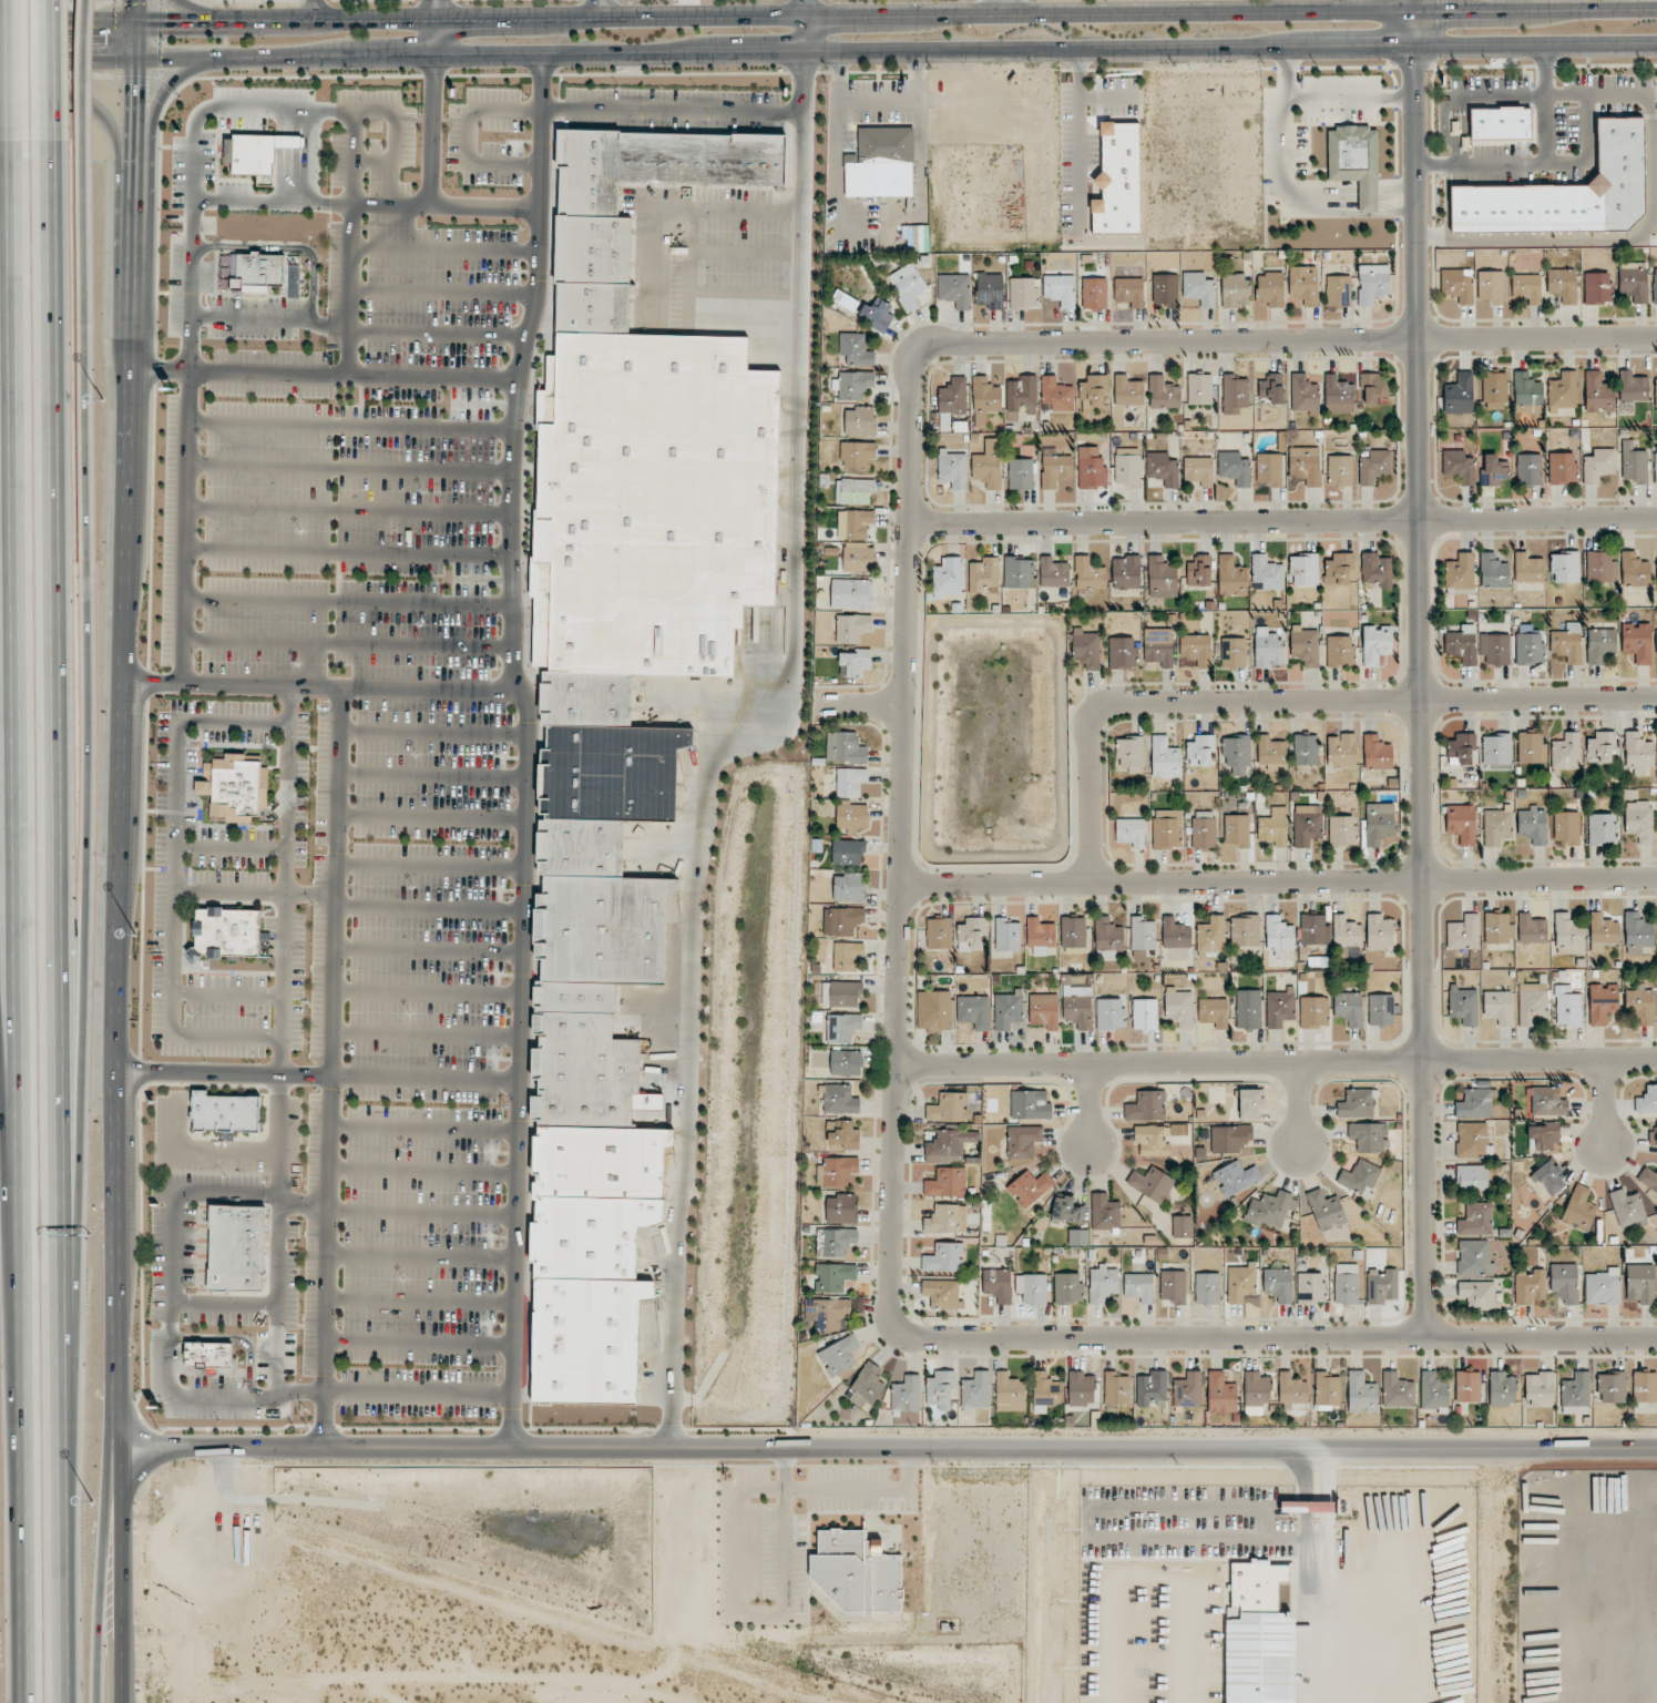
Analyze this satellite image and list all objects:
road: (1412, 4)
road: (1415, 4)
road: (802, 7)
road: (1005, 7)
road: (433, 8)
road: (599, 9)
road: (205, 10)
road: (310, 10)
road: (434, 13)
road: (896, 13)
traffic signals: (166, 22)
road: (68, 23)
road: (136, 31)
road: (802, 33)
road: (434, 37)
road: (896, 52)
road: (68, 63)
traffic signals: (101, 63)
road: (7, 73)
road: (53, 73)
traffic signals: (136, 85)
road: (82, 98)
road: (163, 98)
road: (297, 110)
road: (671, 113)
building: (1501, 122)
road: (432, 132)
road: (1078, 139)
road: (467, 140)
building: (257, 151)
building: (704, 157)
road: (349, 159)
building: (1357, 160)
building: (881, 162)
building: (589, 171)
building: (1118, 179)
road: (386, 185)
building: (1565, 193)
road: (366, 206)
road: (727, 210)
road: (393, 228)
building: (916, 237)
road: (280, 248)
building: (594, 248)
road: (652, 249)
road: (726, 249)
road: (442, 252)
building: (256, 271)
building: (1634, 281)
building: (1373, 283)
building: (1563, 284)
building: (1457, 285)
road: (190, 286)
building: (908, 286)
building: (1303, 286)
building: (1491, 286)
building: (1655, 286)
building: (1527, 287)
building: (1597, 287)
building: (1199, 288)
building: (955, 289)
building: (990, 289)
building: (1060, 289)
building: (1236, 289)
building: (1270, 289)
road: (347, 290)
building: (1165, 290)
building: (1338, 290)
road: (440, 292)
building: (1022, 292)
building: (1129, 292)
road: (725, 294)
building: (1094, 294)
building: (595, 308)
building: (878, 315)
road: (269, 316)
road: (436, 333)
road: (1288, 341)
building: (855, 349)
road: (326, 375)
building: (853, 385)
building: (1634, 387)
building: (1271, 388)
building: (1372, 388)
building: (1199, 389)
building: (1128, 390)
building: (1494, 390)
building: (1564, 390)
building: (1094, 391)
building: (1163, 392)
building: (1235, 392)
building: (1305, 392)
building: (1527, 392)
building: (1598, 392)
building: (1656, 392)
building: (1022, 394)
building: (1057, 394)
building: (1460, 394)
building: (1338, 395)
building: (985, 400)
building: (952, 401)
building: (860, 421)
road: (351, 427)
building: (857, 455)
building: (1634, 462)
building: (989, 465)
building: (1306, 465)
building: (1599, 465)
building: (1655, 465)
building: (1374, 466)
building: (1459, 466)
building: (1127, 467)
building: (1163, 468)
building: (1235, 468)
building: (953, 469)
building: (1056, 469)
building: (1092, 469)
building: (1269, 469)
building: (1528, 469)
building: (1563, 469)
road: (349, 470)
building: (1199, 470)
building: (1340, 471)
building: (1493, 471)
building: (1021, 473)
building: (857, 490)
building: (646, 504)
road: (348, 511)
road: (1283, 521)
building: (853, 523)
road: (184, 528)
road: (348, 552)
building: (858, 559)
building: (1565, 567)
building: (1602, 567)
building: (1528, 568)
building: (1305, 569)
building: (1338, 570)
building: (1634, 570)
building: (1199, 571)
building: (1375, 571)
building: (1460, 571)
building: (1493, 571)
building: (1019, 572)
building: (1054, 572)
building: (1127, 572)
building: (1090, 574)
building: (984, 575)
building: (948, 577)
building: (1231, 577)
building: (1162, 578)
building: (1656, 582)
building: (850, 593)
road: (347, 603)
building: (852, 628)
building: (1637, 641)
building: (1375, 643)
building: (1567, 643)
building: (1656, 643)
road: (347, 644)
building: (1462, 644)
building: (1600, 644)
building: (1305, 645)
building: (1159, 646)
building: (1268, 647)
building: (1495, 647)
building: (1086, 649)
building: (1530, 649)
building: (1195, 650)
building: (1340, 651)
building: (1123, 652)
building: (1234, 652)
building: (856, 662)
road: (1422, 673)
road: (321, 686)
building: (589, 700)
road: (1290, 702)
road: (858, 705)
road: (88, 710)
road: (433, 736)
road: (726, 742)
building: (845, 747)
building: (1461, 747)
building: (1532, 747)
building: (1600, 747)
road: (525, 749)
building: (1200, 749)
building: (1306, 749)
building: (1341, 751)
building: (1496, 751)
building: (1566, 751)
building: (1132, 752)
road: (123, 753)
building: (1271, 753)
building: (1377, 753)
building: (1638, 753)
building: (1237, 754)
building: (1165, 758)
building: (612, 771)
road: (432, 778)
building: (850, 782)
building: (236, 786)
building: (851, 817)
road: (431, 818)
building: (1639, 820)
building: (1379, 823)
building: (1462, 823)
building: (1307, 825)
building: (1497, 825)
building: (1533, 825)
building: (1274, 827)
building: (1167, 828)
building: (1566, 828)
building: (1204, 829)
building: (1603, 829)
building: (1237, 830)
building: (1131, 832)
building: (1341, 832)
road: (902, 837)
building: (582, 846)
building: (848, 851)
road: (430, 867)
road: (285, 881)
road: (1279, 881)
building: (849, 887)
road: (429, 907)
building: (842, 920)
road: (60, 924)
road: (11, 925)
building: (601, 927)
building: (1497, 928)
building: (1312, 929)
building: (1532, 929)
building: (1245, 930)
building: (1073, 931)
building: (1379, 931)
building: (1603, 931)
building: (227, 932)
building: (939, 932)
building: (1143, 932)
building: (1347, 932)
building: (1464, 932)
building: (1637, 932)
building: (971, 934)
building: (1175, 934)
building: (1567, 934)
building: (1008, 935)
building: (1211, 935)
building: (1279, 935)
building: (1041, 936)
building: (1108, 936)
road: (428, 951)
building: (847, 956)
building: (846, 993)
road: (427, 995)
building: (575, 996)
building: (1603, 1002)
building: (1532, 1003)
building: (1463, 1005)
building: (1640, 1006)
building: (1280, 1007)
building: (1499, 1007)
building: (1567, 1007)
building: (1178, 1008)
building: (1349, 1008)
building: (1248, 1009)
building: (1381, 1009)
building: (1008, 1010)
building: (1044, 1010)
building: (973, 1011)
building: (1214, 1012)
building: (1313, 1012)
building: (1111, 1013)
building: (1145, 1013)
building: (842, 1027)
road: (426, 1037)
building: (846, 1062)
road: (1277, 1062)
road: (331, 1065)
building: (662, 1065)
building: (584, 1071)
road: (224, 1075)
road: (425, 1080)
building: (839, 1100)
building: (1647, 1100)
building: (1547, 1101)
building: (1249, 1103)
road: (1300, 1103)
building: (1357, 1103)
building: (1475, 1103)
road: (1606, 1103)
building: (1030, 1104)
road: (1091, 1105)
building: (1147, 1105)
building: (949, 1108)
building: (226, 1112)
road: (423, 1130)
building: (1653, 1133)
building: (1369, 1136)
building: (1544, 1136)
building: (1231, 1139)
building: (1154, 1140)
building: (1472, 1140)
building: (1023, 1141)
building: (948, 1145)
road: (4, 1159)
building: (602, 1159)
road: (422, 1171)
building: (836, 1171)
building: (1360, 1175)
building: (1236, 1177)
building: (1472, 1177)
building: (1548, 1177)
building: (1648, 1179)
building: (947, 1183)
building: (1152, 1183)
building: (1030, 1187)
building: (841, 1209)
building: (1275, 1209)
building: (1579, 1209)
building: (1627, 1209)
building: (1066, 1210)
building: (1326, 1211)
building: (1105, 1213)
road: (421, 1214)
building: (947, 1220)
building: (1476, 1220)
building: (1183, 1226)
building: (591, 1234)
building: (1078, 1237)
building: (835, 1242)
building: (237, 1247)
road: (421, 1256)
building: (944, 1257)
building: (1474, 1257)
building: (833, 1276)
building: (1565, 1282)
building: (1241, 1283)
building: (1347, 1283)
building: (998, 1284)
building: (1103, 1284)
building: (1278, 1284)
building: (1640, 1284)
building: (1381, 1285)
building: (1139, 1286)
building: (1530, 1286)
building: (1173, 1287)
building: (1603, 1287)
building: (1032, 1288)
building: (1067, 1288)
building: (1207, 1288)
building: (1311, 1288)
building: (942, 1293)
building: (1477, 1294)
road: (420, 1301)
building: (829, 1313)
building: (589, 1337)
road: (1276, 1337)
road: (419, 1344)
building: (209, 1355)
building: (839, 1355)
building: (866, 1386)
building: (1467, 1386)
building: (1645, 1386)
building: (1612, 1387)
building: (1082, 1388)
building: (1256, 1388)
building: (1291, 1388)
building: (1327, 1388)
building: (1502, 1388)
building: (940, 1389)
building: (1152, 1389)
building: (1538, 1389)
building: (976, 1390)
building: (1116, 1390)
building: (1188, 1390)
building: (1398, 1390)
building: (1433, 1390)
building: (1045, 1391)
road: (418, 1393)
building: (1010, 1393)
building: (1361, 1393)
building: (907, 1394)
building: (1221, 1394)
building: (1575, 1394)
road: (886, 1447)
road: (1312, 1471)
road: (827, 1489)
road: (1313, 1501)
building: (1309, 1505)
road: (108, 1573)
road: (121, 1573)
building: (858, 1575)
road: (1315, 1604)
building: (1259, 1636)

